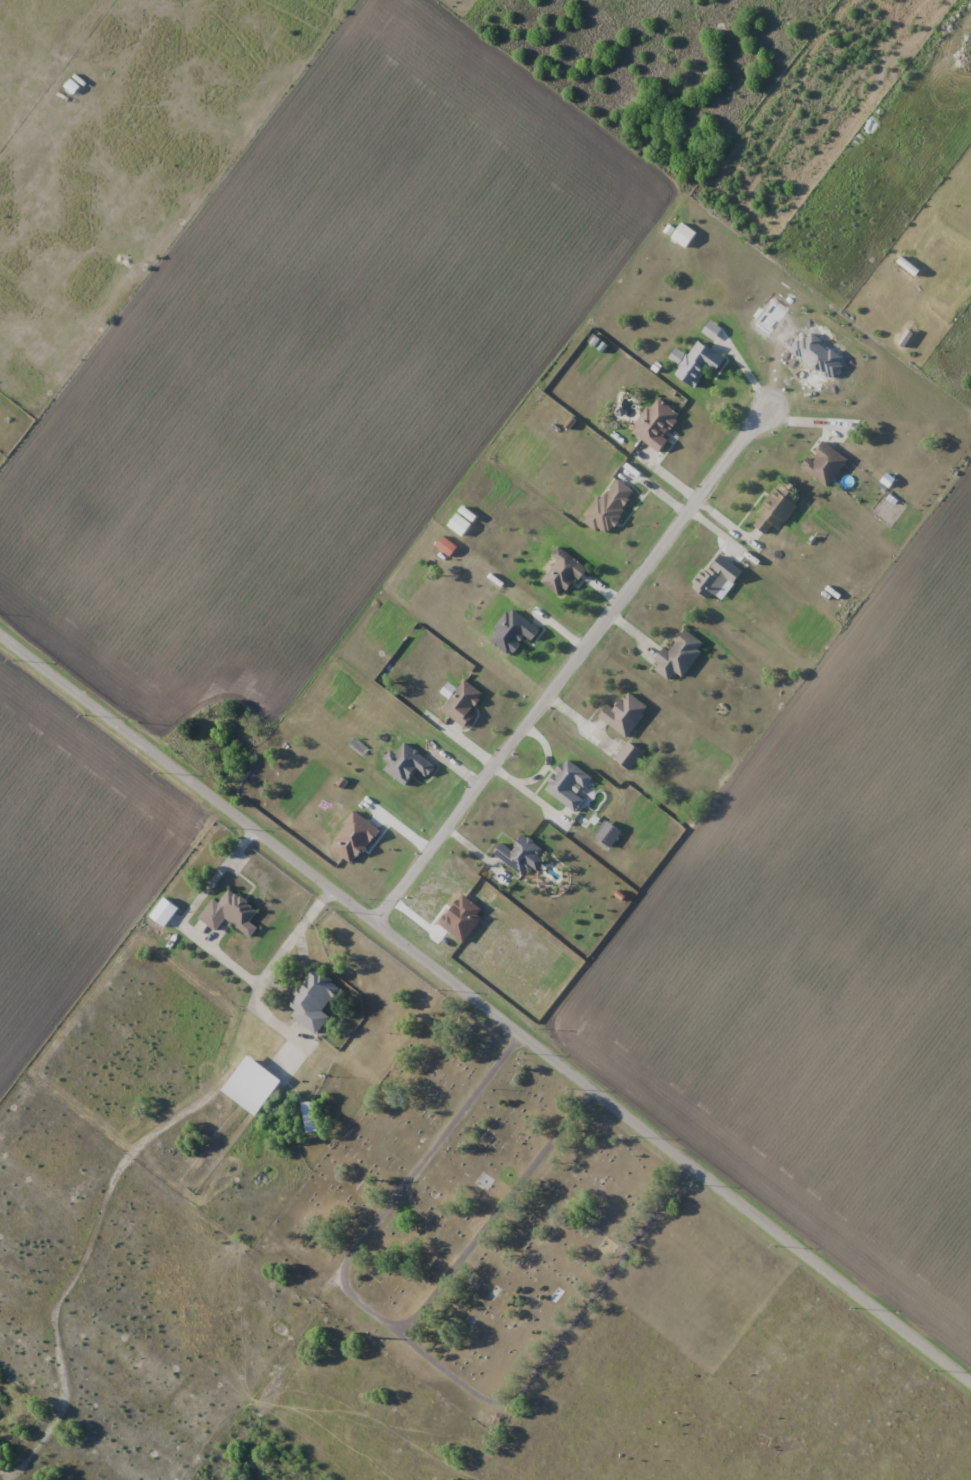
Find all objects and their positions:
building: (70, 85)
building: (683, 235)
building: (699, 364)
road: (749, 377)
building: (656, 424)
building: (825, 463)
building: (610, 506)
building: (777, 506)
building: (459, 524)
building: (563, 572)
building: (717, 576)
building: (514, 631)
building: (680, 655)
road: (567, 666)
building: (464, 702)
building: (625, 714)
building: (630, 755)
building: (409, 764)
building: (569, 784)
building: (520, 854)
crop: (70, 859)
building: (164, 911)
building: (231, 913)
building: (313, 1001)
road: (485, 1006)
building: (252, 1085)
park: (472, 1219)

